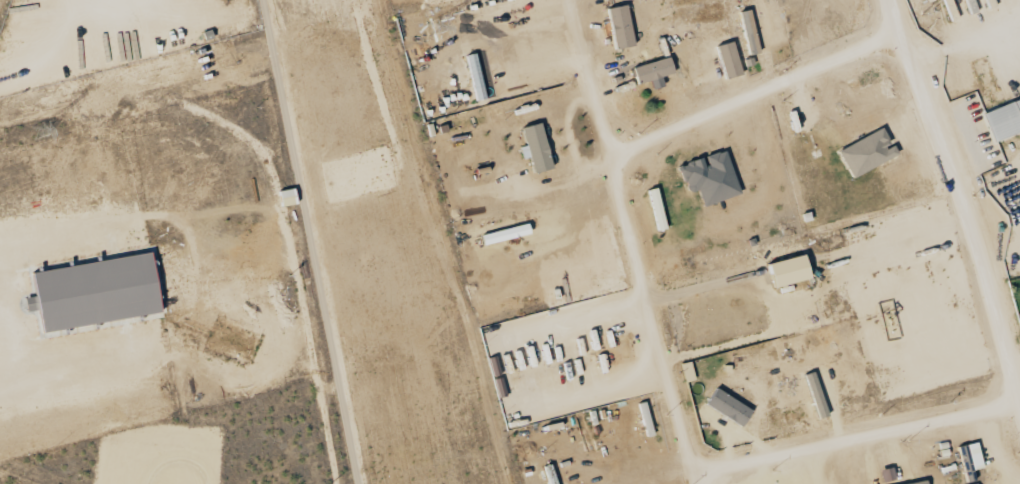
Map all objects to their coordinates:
power tower: (433, 27)
building: (621, 27)
building: (750, 34)
building: (729, 60)
building: (654, 70)
building: (476, 78)
road: (756, 93)
building: (1004, 120)
power tower: (39, 130)
building: (538, 148)
building: (867, 153)
building: (711, 178)
building: (288, 197)
road: (957, 201)
building: (497, 236)
road: (630, 241)
building: (790, 271)
building: (96, 292)
petroleum well: (880, 318)
building: (729, 407)
road: (855, 435)
building: (971, 460)
building: (922, 483)

